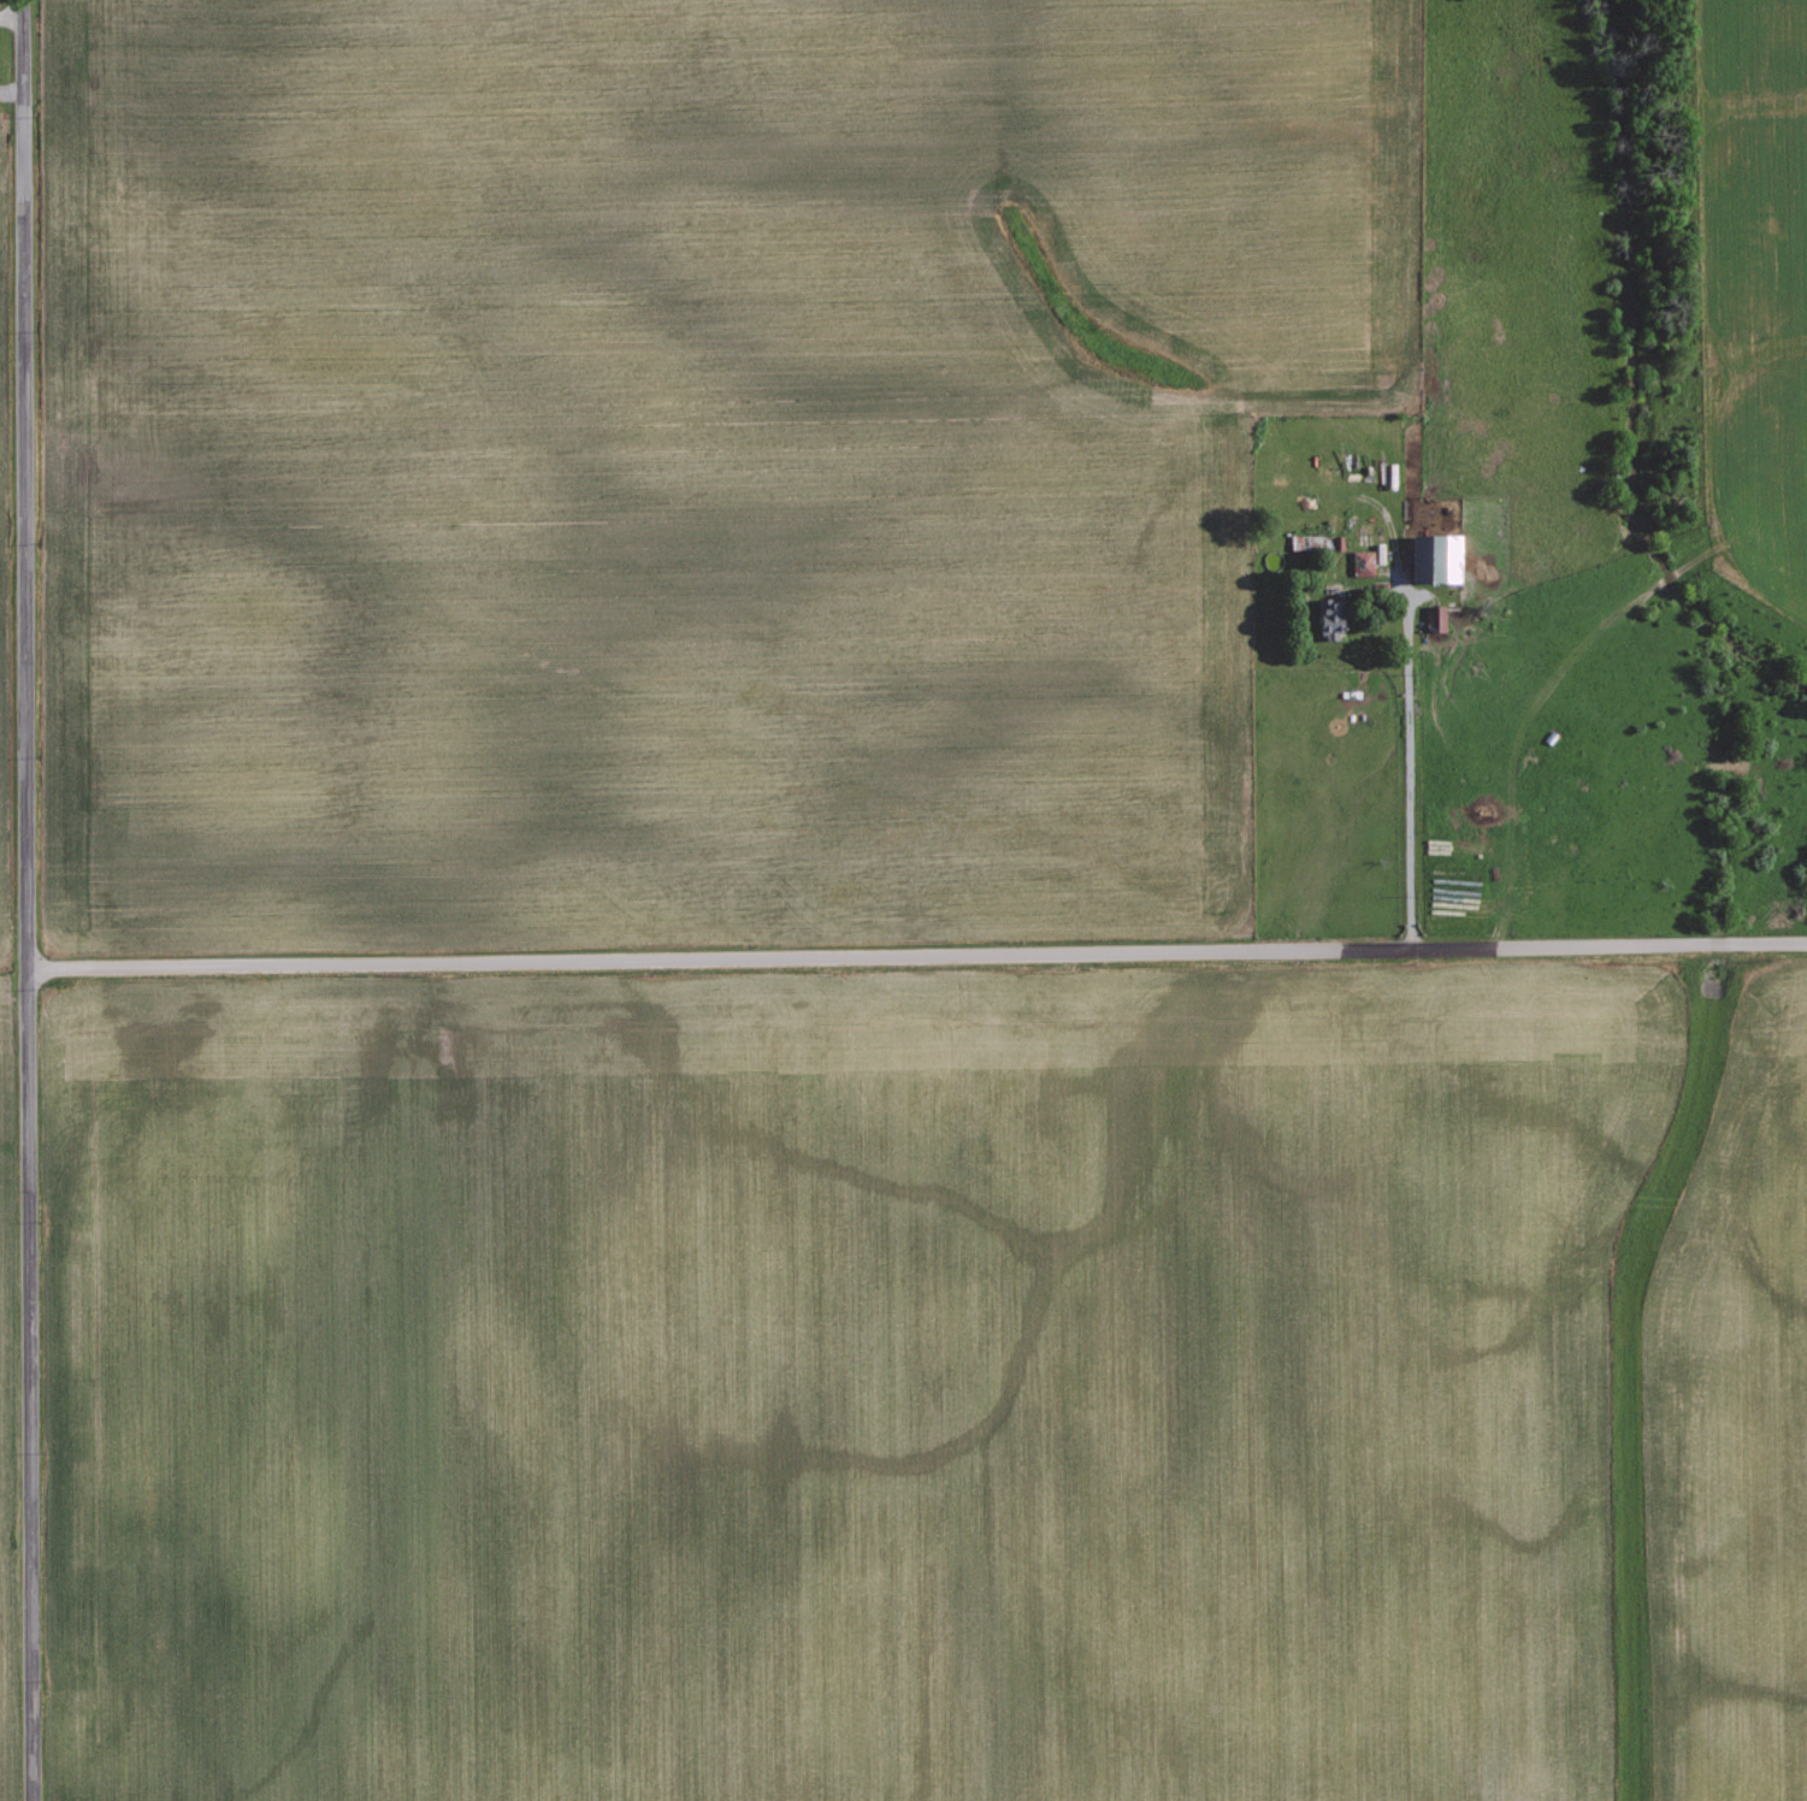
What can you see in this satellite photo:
building: (1317, 542)
building: (1435, 557)
building: (1363, 561)
building: (1436, 616)
building: (1330, 619)
road: (25, 899)
road: (916, 953)

